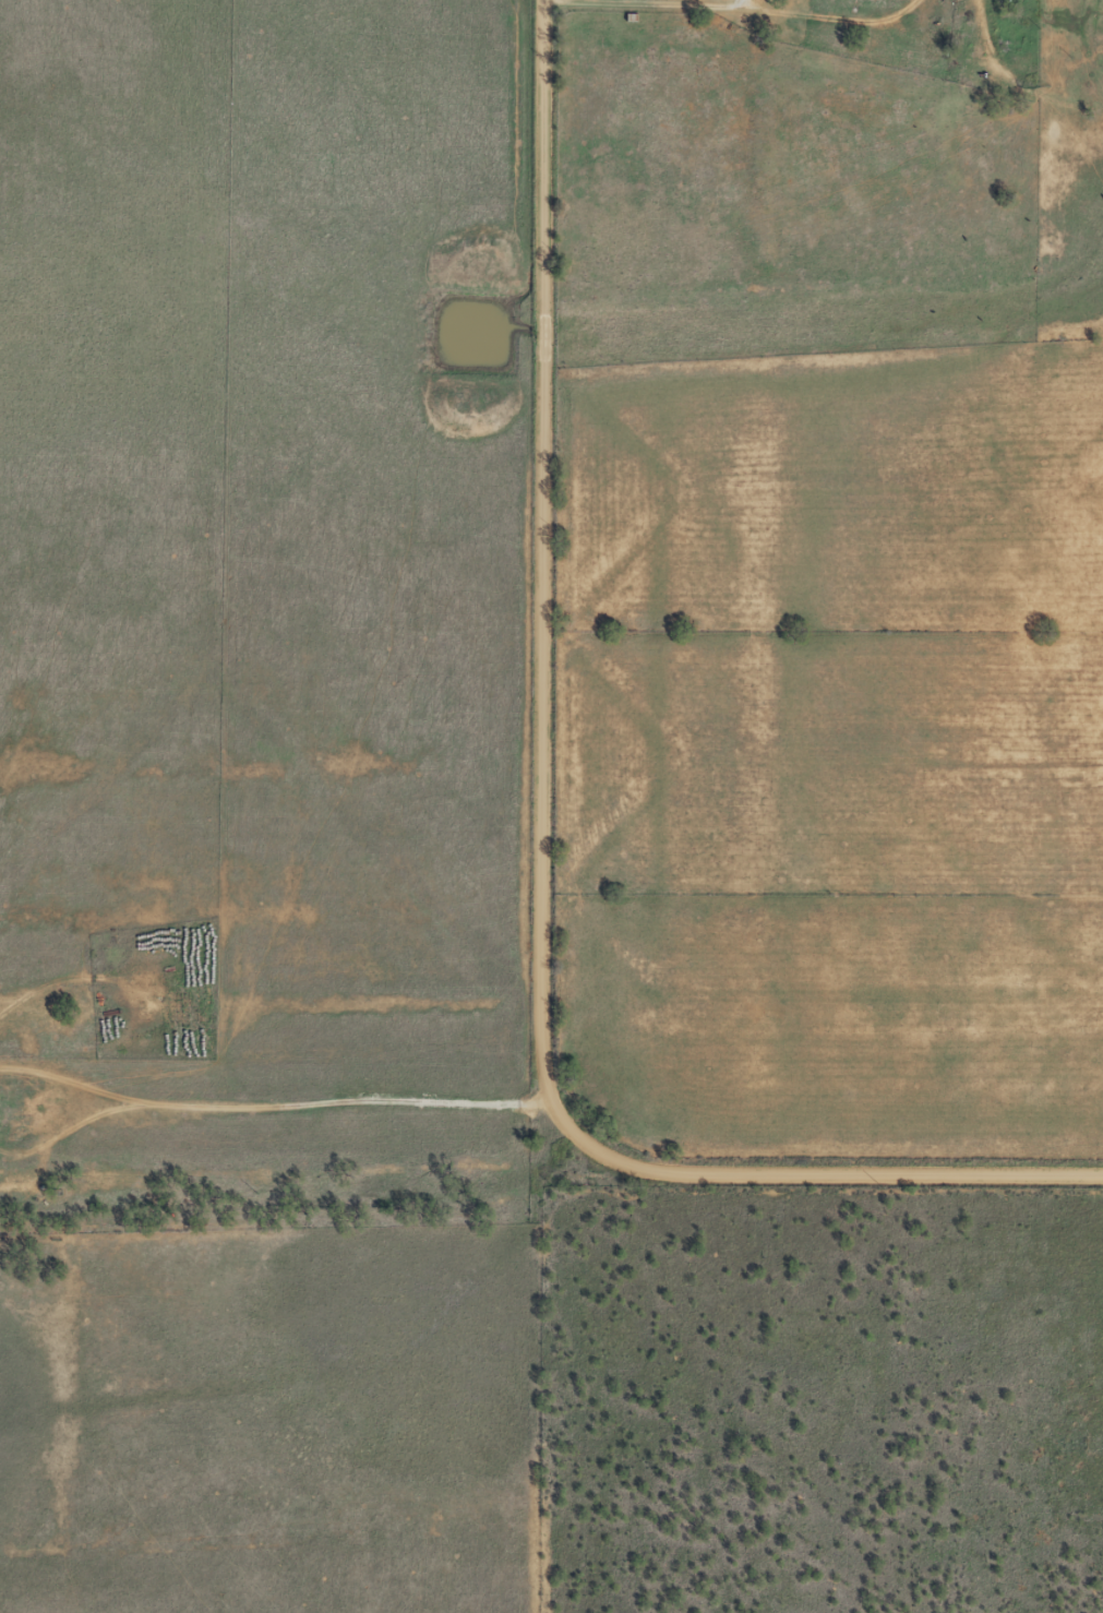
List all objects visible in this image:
road: (850, 25)
road: (543, 837)
road: (304, 1087)
building: (12, 1107)

